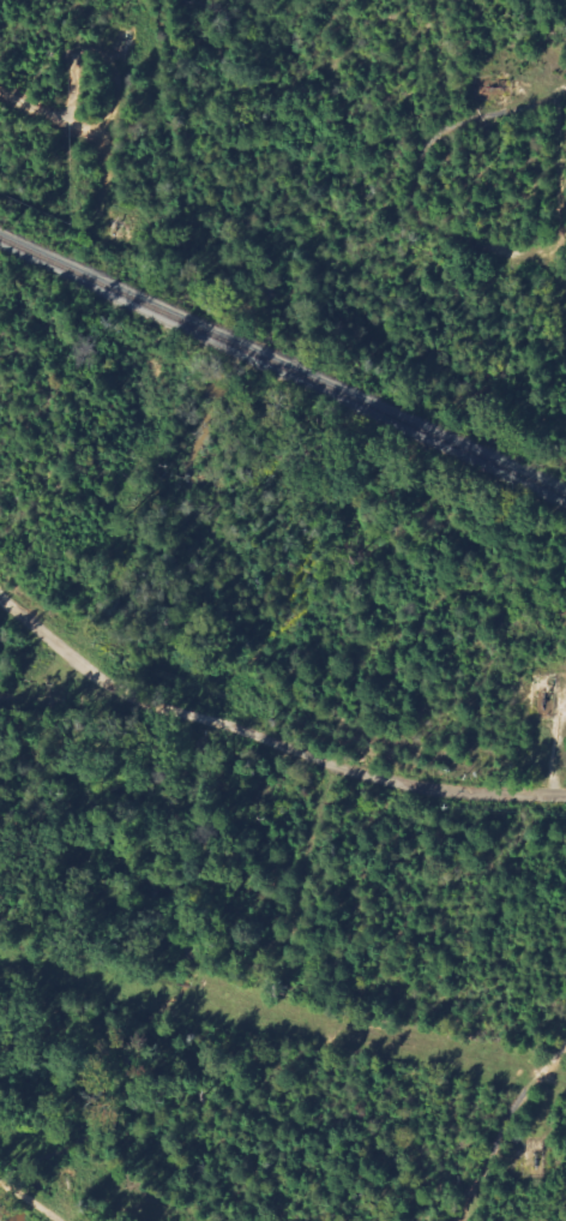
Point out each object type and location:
railway: (283, 367)
road: (265, 738)
road: (30, 1198)

